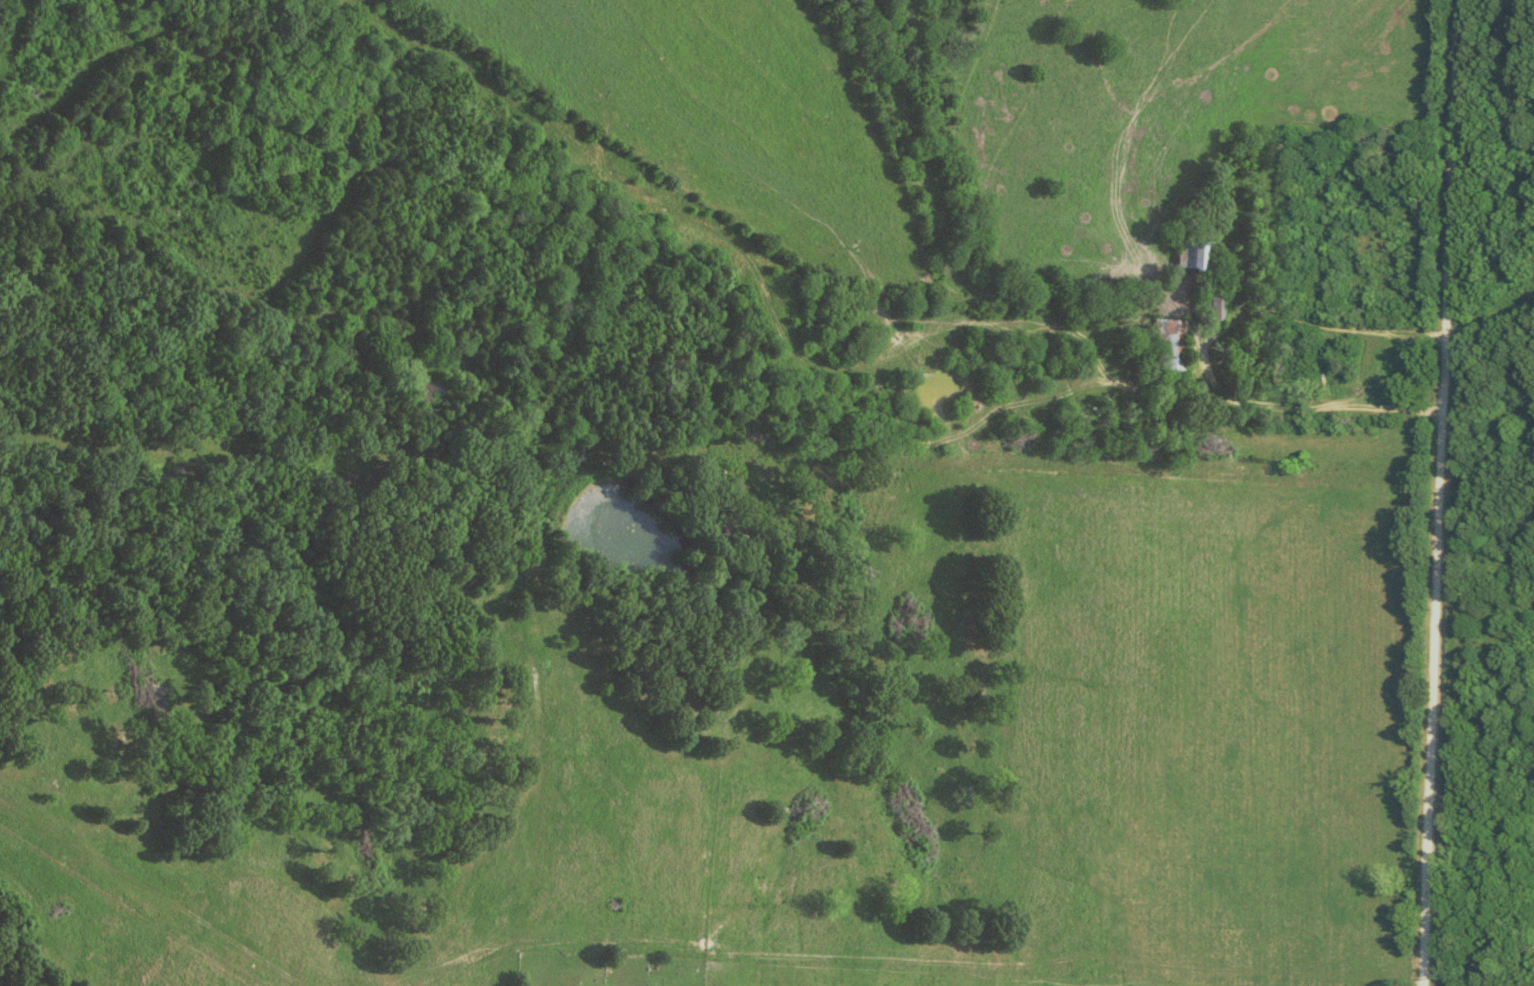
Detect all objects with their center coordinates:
building: (1196, 255)
building: (1218, 306)
building: (1169, 347)
building: (1285, 370)
road: (1318, 413)
road: (1438, 492)

